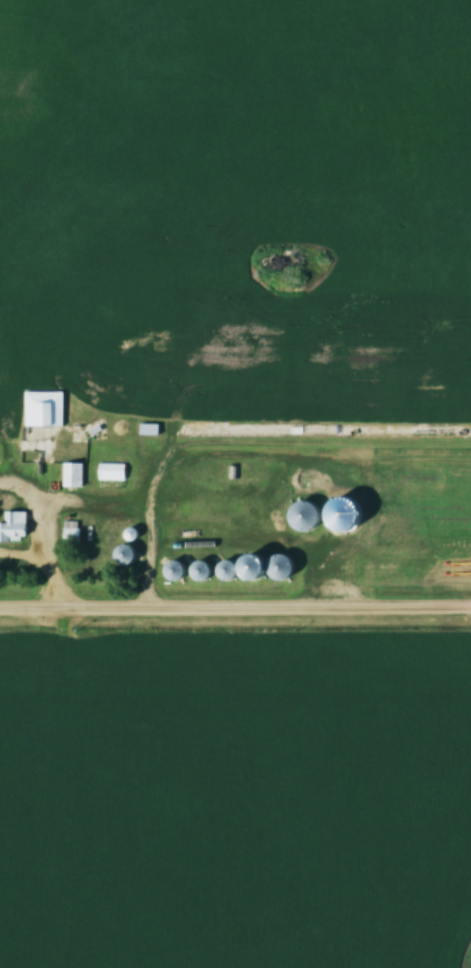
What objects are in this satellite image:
building: (294, 246)
building: (161, 329)
building: (43, 408)
road: (240, 439)
building: (110, 471)
building: (72, 474)
road: (32, 513)
building: (300, 515)
building: (13, 526)
building: (342, 526)
building: (69, 531)
road: (45, 564)
building: (275, 566)
road: (235, 606)

